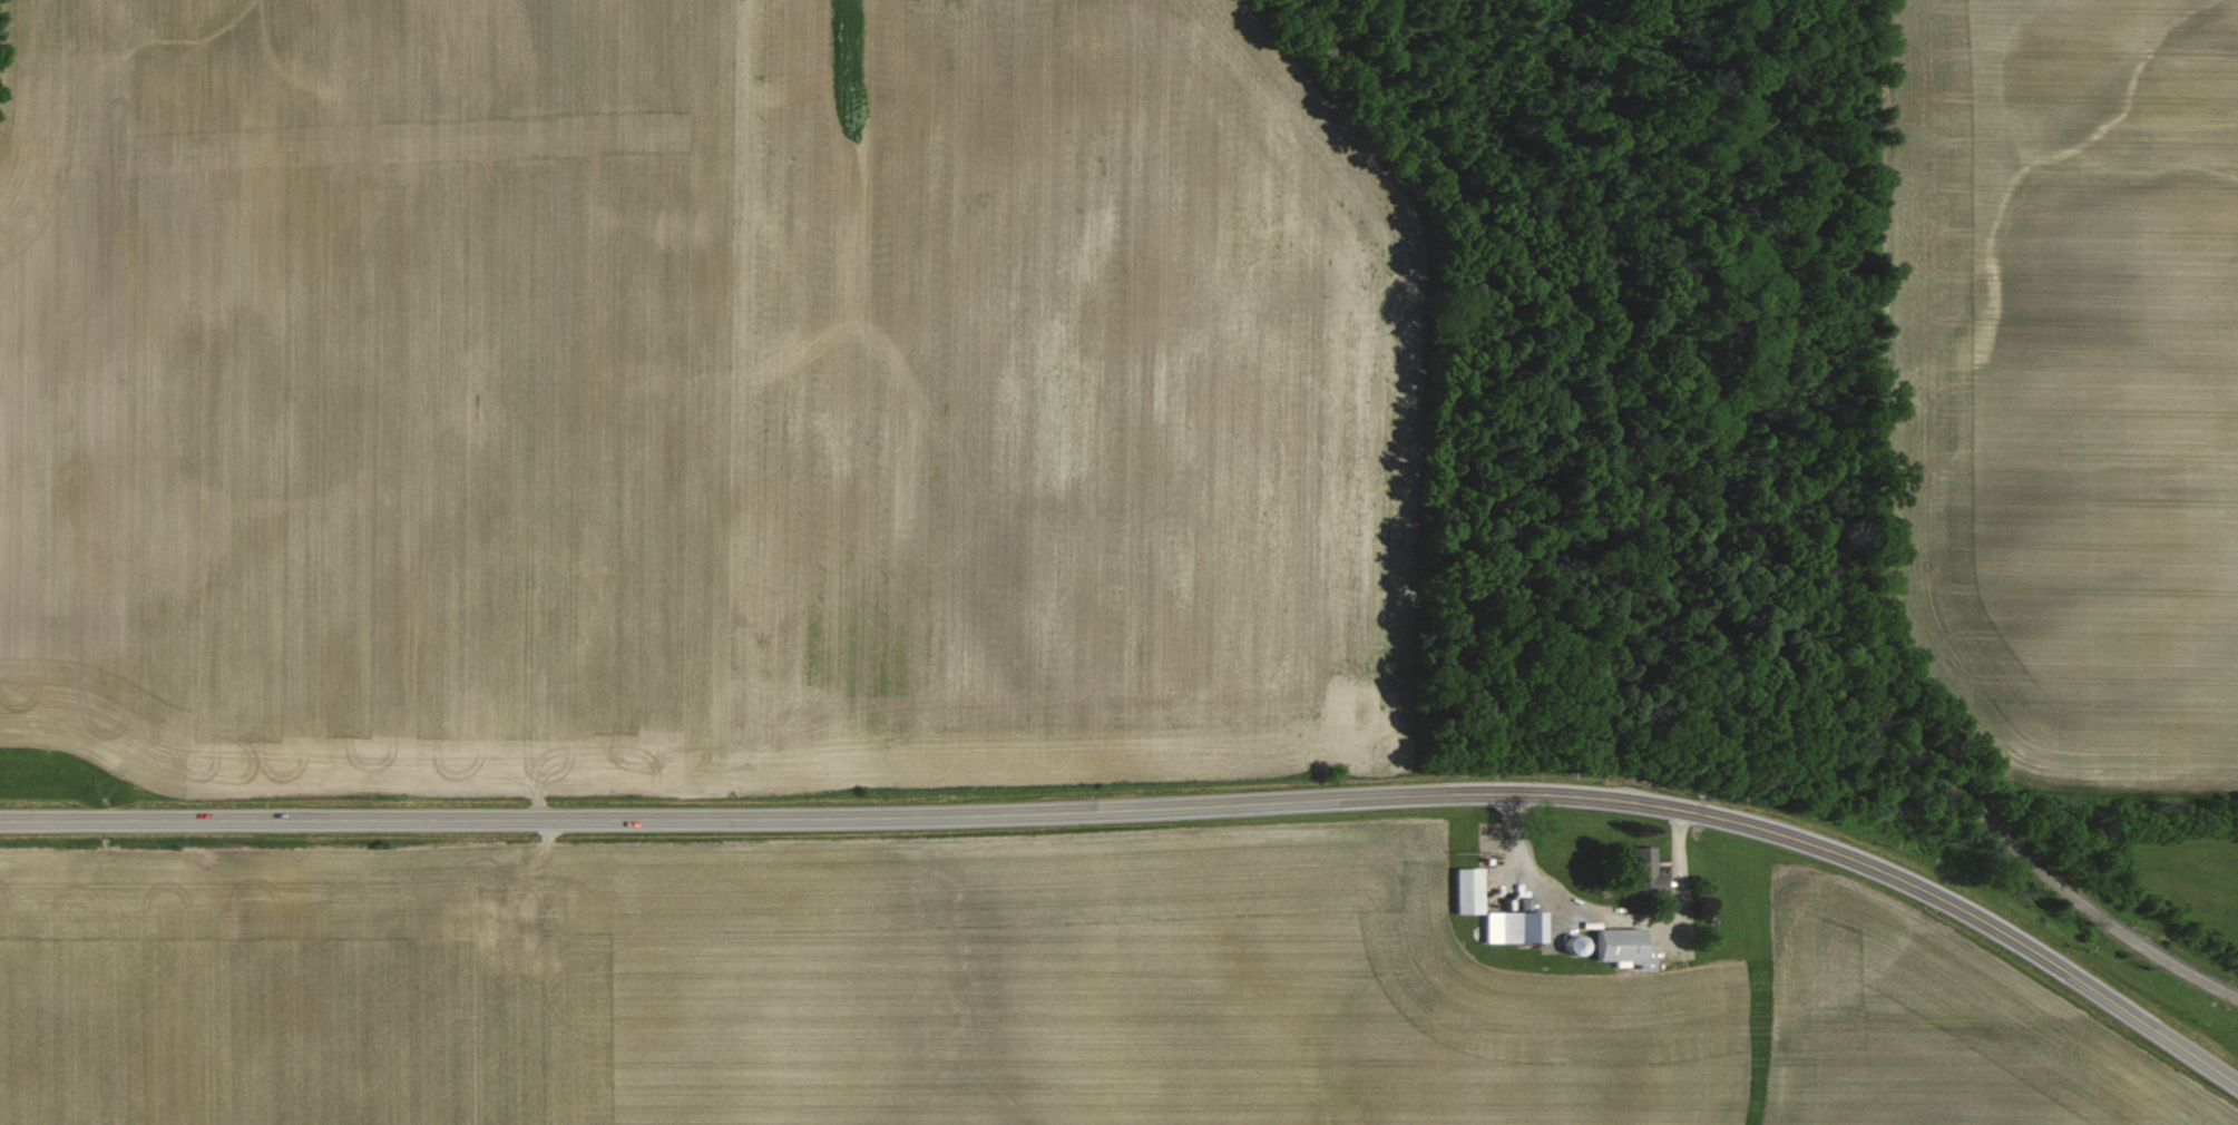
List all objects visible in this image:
road: (1739, 530)
road: (1154, 808)
building: (1646, 862)
building: (1473, 890)
building: (1518, 927)
building: (1624, 946)

